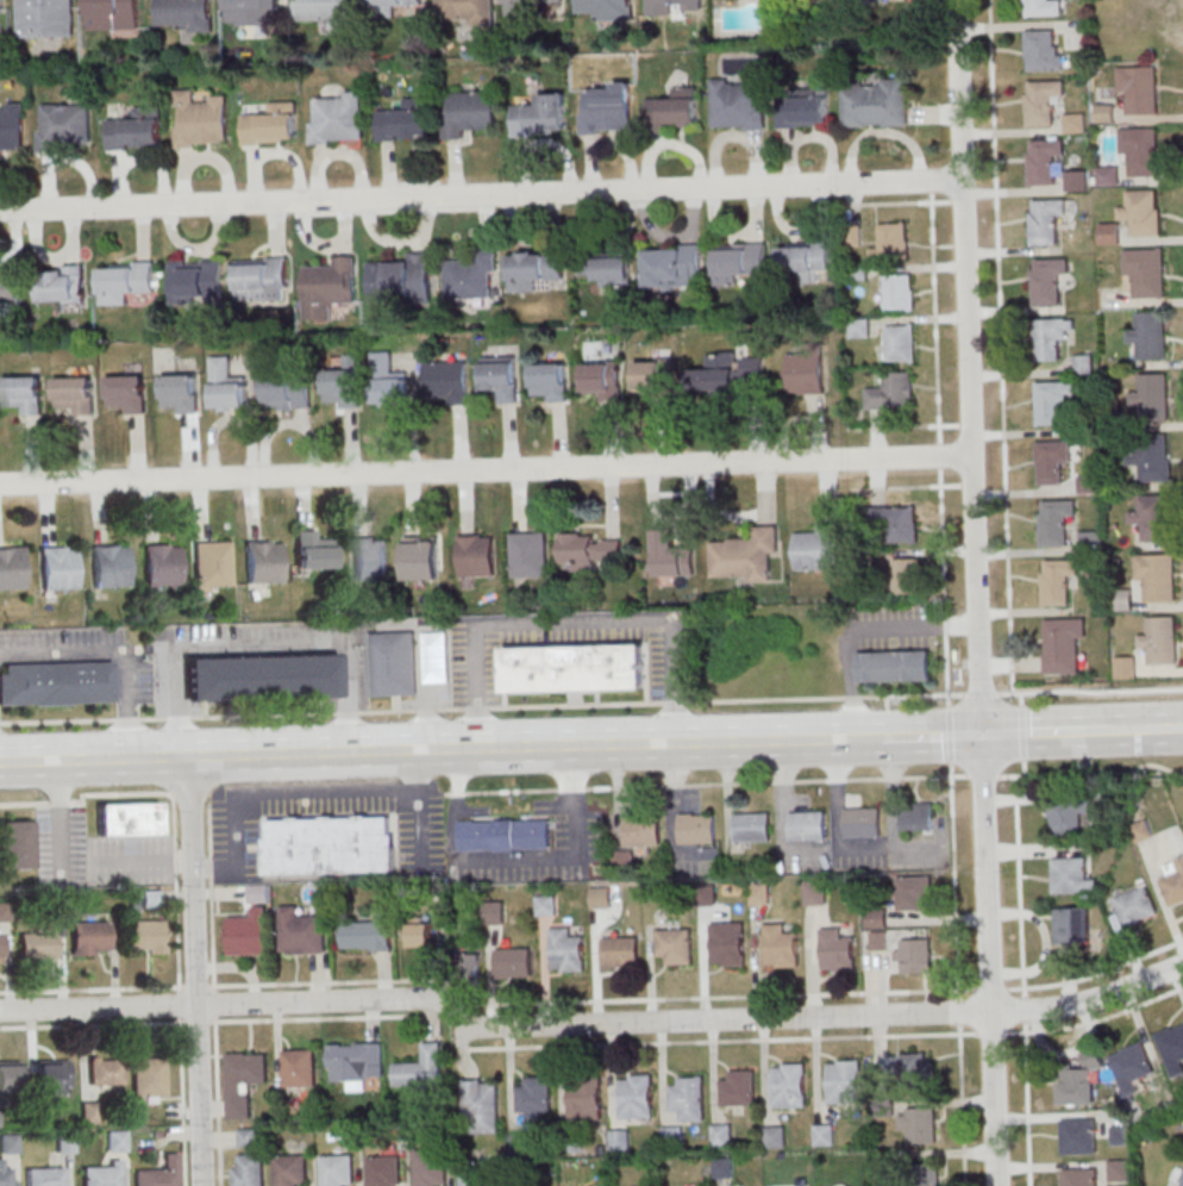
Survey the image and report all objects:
building: (1, 5)
building: (389, 5)
building: (252, 6)
building: (513, 7)
building: (1043, 7)
building: (605, 8)
building: (328, 11)
building: (465, 11)
building: (113, 14)
building: (186, 14)
building: (45, 18)
building: (1044, 51)
building: (1140, 88)
building: (1044, 100)
building: (876, 102)
building: (738, 104)
building: (805, 107)
building: (607, 108)
building: (675, 108)
building: (471, 112)
building: (542, 116)
building: (337, 118)
building: (199, 119)
building: (407, 120)
building: (1076, 123)
building: (273, 125)
building: (65, 126)
building: (12, 129)
building: (137, 130)
building: (1147, 151)
building: (1045, 162)
road: (482, 196)
road: (897, 202)
building: (1144, 212)
building: (1047, 221)
building: (1110, 232)
building: (893, 242)
building: (806, 258)
building: (739, 261)
building: (674, 266)
building: (613, 267)
building: (536, 268)
building: (1147, 270)
building: (262, 276)
building: (472, 276)
building: (402, 279)
building: (1049, 279)
building: (125, 280)
building: (198, 280)
building: (11, 282)
building: (60, 285)
building: (330, 287)
building: (900, 291)
road: (935, 317)
building: (859, 326)
building: (1150, 335)
building: (1051, 337)
building: (900, 342)
road: (1001, 345)
building: (1084, 363)
building: (728, 372)
building: (806, 372)
building: (650, 374)
building: (501, 377)
building: (601, 379)
building: (388, 380)
building: (550, 381)
building: (450, 382)
building: (227, 385)
building: (342, 387)
building: (288, 391)
building: (891, 391)
building: (127, 393)
building: (180, 393)
building: (25, 394)
building: (74, 394)
building: (1152, 398)
building: (1054, 399)
road: (896, 425)
road: (940, 455)
building: (1152, 456)
building: (1053, 461)
road: (486, 469)
road: (905, 485)
building: (1152, 517)
building: (1056, 520)
building: (896, 524)
building: (819, 548)
building: (313, 550)
building: (588, 550)
building: (530, 554)
building: (674, 554)
building: (477, 555)
building: (745, 555)
building: (371, 557)
building: (422, 557)
building: (264, 561)
building: (213, 563)
building: (162, 564)
building: (58, 567)
building: (111, 567)
building: (12, 568)
building: (907, 575)
building: (1157, 576)
building: (1058, 580)
road: (945, 586)
road: (977, 593)
building: (1123, 600)
road: (574, 620)
road: (860, 626)
building: (1160, 639)
road: (259, 644)
building: (1063, 644)
road: (115, 651)
building: (393, 663)
building: (895, 666)
building: (1126, 666)
building: (576, 668)
building: (261, 676)
building: (57, 683)
road: (1089, 689)
road: (978, 692)
road: (650, 703)
road: (168, 717)
road: (1176, 730)
road: (1145, 731)
road: (949, 732)
road: (996, 734)
road: (1050, 735)
road: (932, 738)
traffic signals: (982, 738)
road: (858, 741)
road: (417, 751)
road: (458, 772)
road: (1091, 772)
road: (982, 774)
road: (713, 782)
road: (286, 792)
road: (452, 793)
road: (174, 800)
road: (838, 812)
road: (784, 814)
building: (1068, 816)
road: (675, 817)
building: (916, 817)
building: (127, 819)
building: (864, 823)
building: (808, 826)
building: (753, 828)
building: (697, 829)
building: (644, 830)
building: (1143, 830)
building: (506, 834)
building: (14, 844)
building: (330, 844)
road: (538, 859)
building: (1072, 875)
road: (954, 879)
building: (1173, 882)
road: (1021, 885)
building: (815, 892)
building: (915, 892)
building: (760, 893)
road: (211, 897)
building: (601, 897)
building: (546, 905)
building: (1137, 905)
building: (4, 911)
building: (877, 918)
building: (1072, 925)
building: (422, 931)
building: (302, 932)
building: (144, 934)
building: (250, 934)
building: (369, 934)
building: (90, 937)
building: (880, 940)
building: (728, 943)
building: (38, 945)
building: (674, 945)
building: (1, 947)
building: (781, 947)
building: (567, 950)
building: (837, 950)
building: (620, 951)
building: (915, 955)
building: (512, 962)
road: (1095, 970)
road: (195, 972)
road: (328, 981)
road: (195, 985)
road: (92, 990)
road: (730, 995)
road: (214, 1003)
road: (180, 1004)
road: (223, 1005)
road: (1025, 1009)
road: (958, 1011)
road: (821, 1017)
road: (320, 1018)
road: (1097, 1020)
road: (198, 1023)
road: (92, 1024)
road: (731, 1040)
building: (1172, 1048)
building: (1133, 1061)
building: (356, 1062)
building: (914, 1066)
building: (300, 1067)
building: (422, 1067)
building: (105, 1070)
building: (51, 1072)
building: (8, 1076)
building: (148, 1079)
building: (245, 1081)
building: (843, 1081)
building: (789, 1085)
building: (1076, 1086)
building: (738, 1088)
building: (636, 1096)
building: (534, 1097)
building: (584, 1098)
building: (688, 1098)
road: (217, 1100)
road: (183, 1101)
road: (1026, 1103)
building: (481, 1105)
road: (962, 1105)
building: (88, 1113)
building: (919, 1124)
building: (822, 1134)
building: (721, 1135)
building: (672, 1136)
building: (1077, 1136)
building: (248, 1137)
building: (775, 1137)
building: (115, 1141)
building: (620, 1141)
building: (64, 1143)
building: (519, 1143)
building: (8, 1144)
building: (430, 1167)
building: (722, 1167)
building: (250, 1169)
building: (289, 1169)
building: (337, 1169)
building: (1119, 1169)
building: (383, 1171)
building: (925, 1173)
building: (102, 1174)
building: (157, 1174)
building: (4, 1175)
building: (44, 1176)
building: (1078, 1176)
building: (469, 1180)
building: (1181, 1180)

